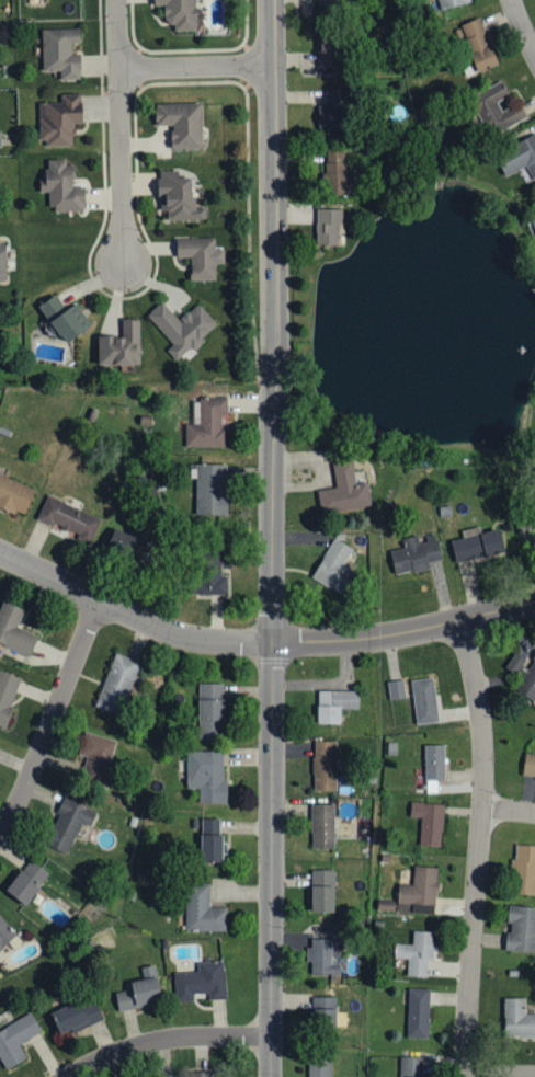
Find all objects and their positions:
building: (332, 2)
building: (451, 3)
building: (179, 13)
road: (522, 28)
road: (114, 33)
building: (477, 45)
building: (330, 49)
building: (60, 53)
road: (192, 64)
building: (493, 103)
building: (333, 110)
building: (59, 121)
building: (181, 124)
building: (0, 139)
road: (270, 157)
building: (520, 157)
road: (117, 163)
building: (333, 175)
building: (62, 187)
building: (178, 197)
building: (532, 219)
building: (328, 227)
building: (200, 256)
building: (2, 262)
building: (64, 319)
building: (182, 329)
building: (121, 346)
road: (271, 346)
building: (207, 424)
building: (210, 490)
building: (344, 492)
building: (14, 495)
road: (264, 505)
building: (68, 519)
building: (123, 541)
building: (477, 545)
building: (416, 554)
building: (334, 566)
road: (86, 577)
building: (210, 578)
road: (84, 592)
road: (464, 605)
road: (464, 615)
road: (281, 625)
building: (14, 630)
road: (193, 633)
road: (243, 634)
road: (332, 638)
building: (527, 683)
building: (116, 685)
building: (396, 690)
building: (7, 696)
building: (424, 701)
building: (334, 706)
building: (210, 711)
road: (49, 712)
building: (95, 758)
building: (325, 766)
building: (434, 767)
building: (528, 767)
building: (206, 776)
road: (508, 807)
building: (429, 823)
building: (68, 825)
building: (322, 826)
building: (210, 840)
road: (477, 846)
road: (267, 853)
building: (524, 872)
building: (26, 883)
building: (420, 891)
building: (322, 892)
building: (203, 910)
building: (521, 929)
building: (8, 936)
building: (417, 953)
building: (325, 958)
building: (202, 982)
building: (138, 993)
building: (323, 1010)
building: (418, 1012)
building: (75, 1015)
building: (517, 1018)
building: (15, 1040)
road: (163, 1040)
building: (411, 1066)
building: (319, 1067)
road: (498, 1073)
building: (201, 1074)

